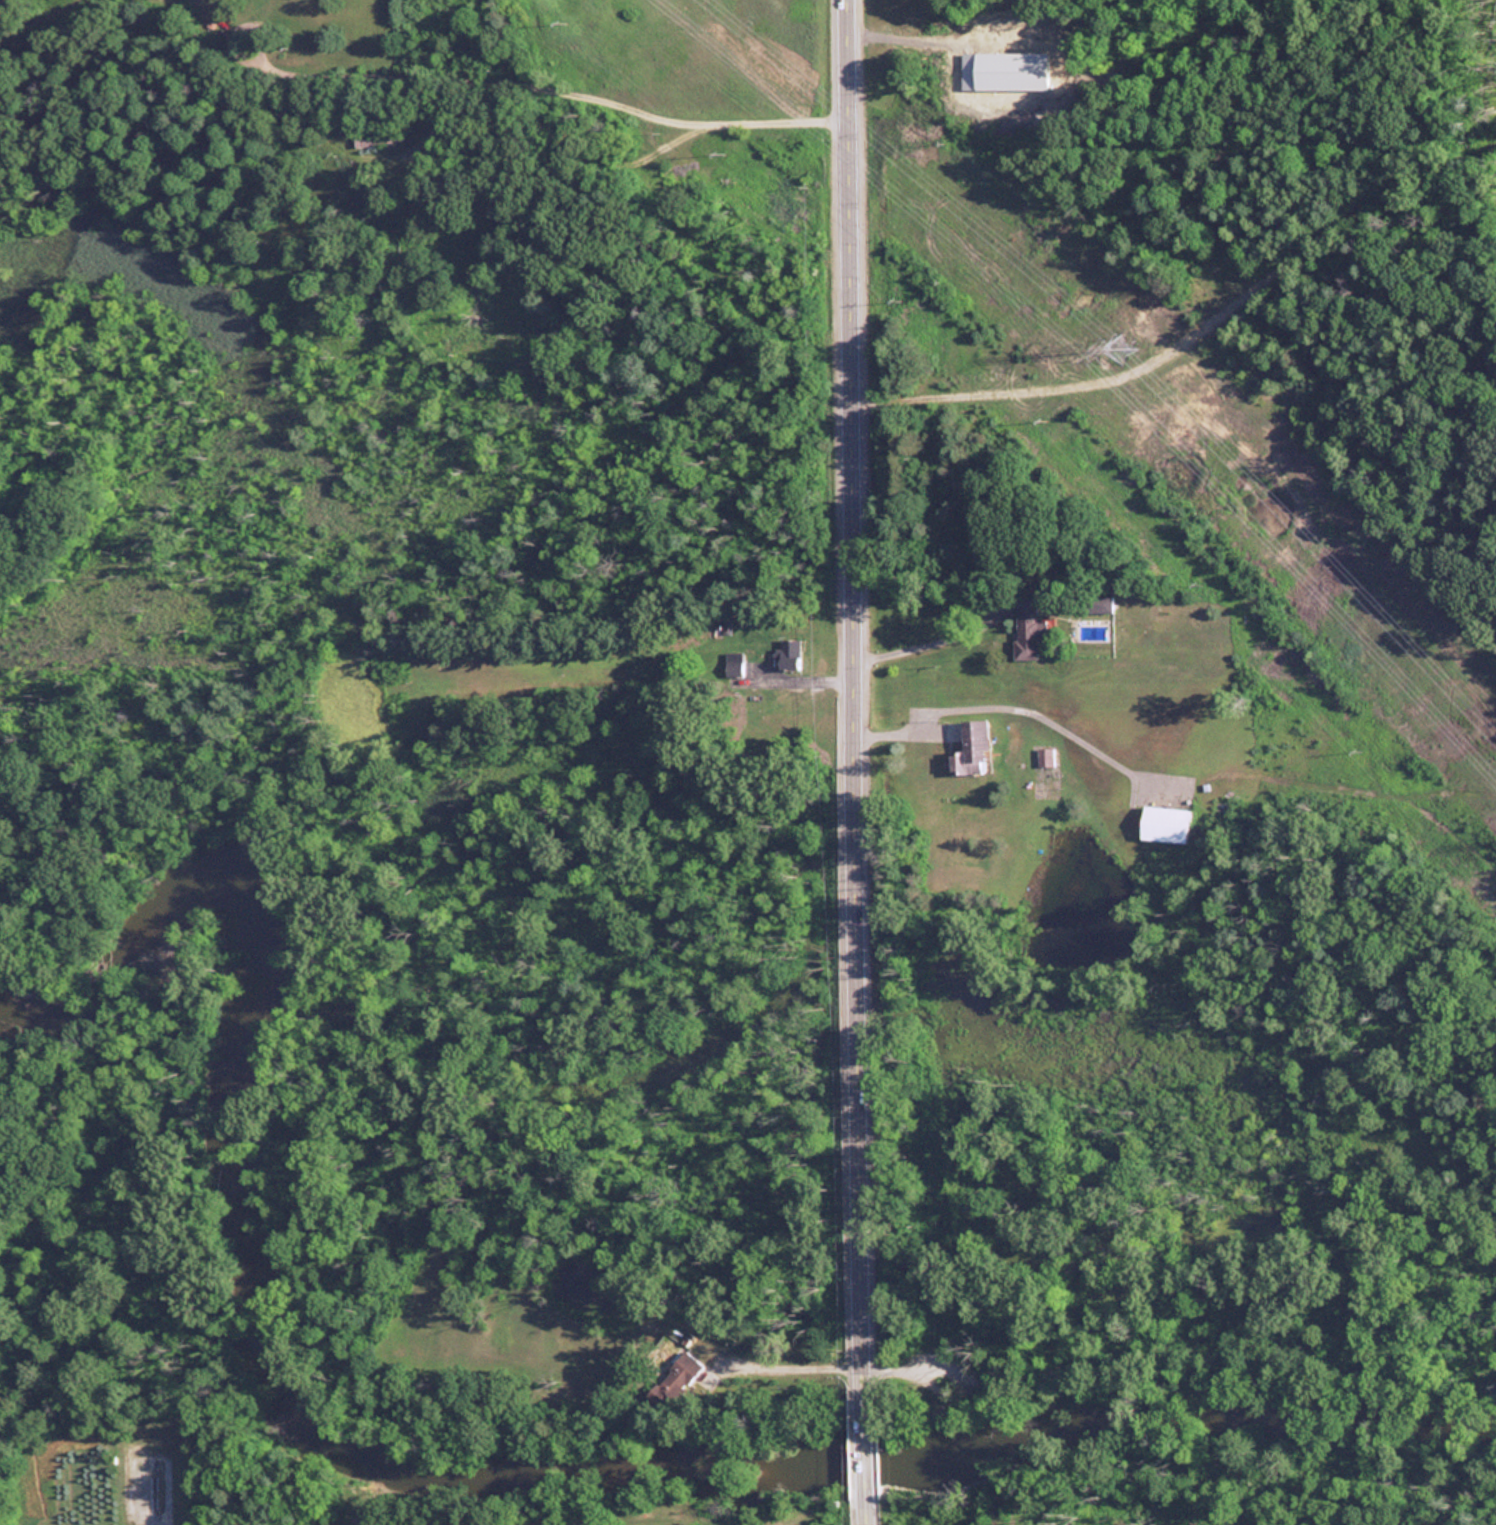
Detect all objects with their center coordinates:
road: (549, 89)
road: (447, 115)
building: (378, 141)
road: (1199, 336)
power tower: (1121, 348)
building: (1096, 606)
building: (1030, 630)
road: (935, 642)
building: (792, 657)
building: (736, 666)
road: (805, 676)
road: (857, 687)
road: (1003, 700)
building: (976, 752)
building: (1047, 759)
building: (1169, 826)
parking lot: (942, 1363)
road: (916, 1366)
road: (793, 1369)
building: (687, 1375)
road: (864, 1450)
river: (427, 1476)

